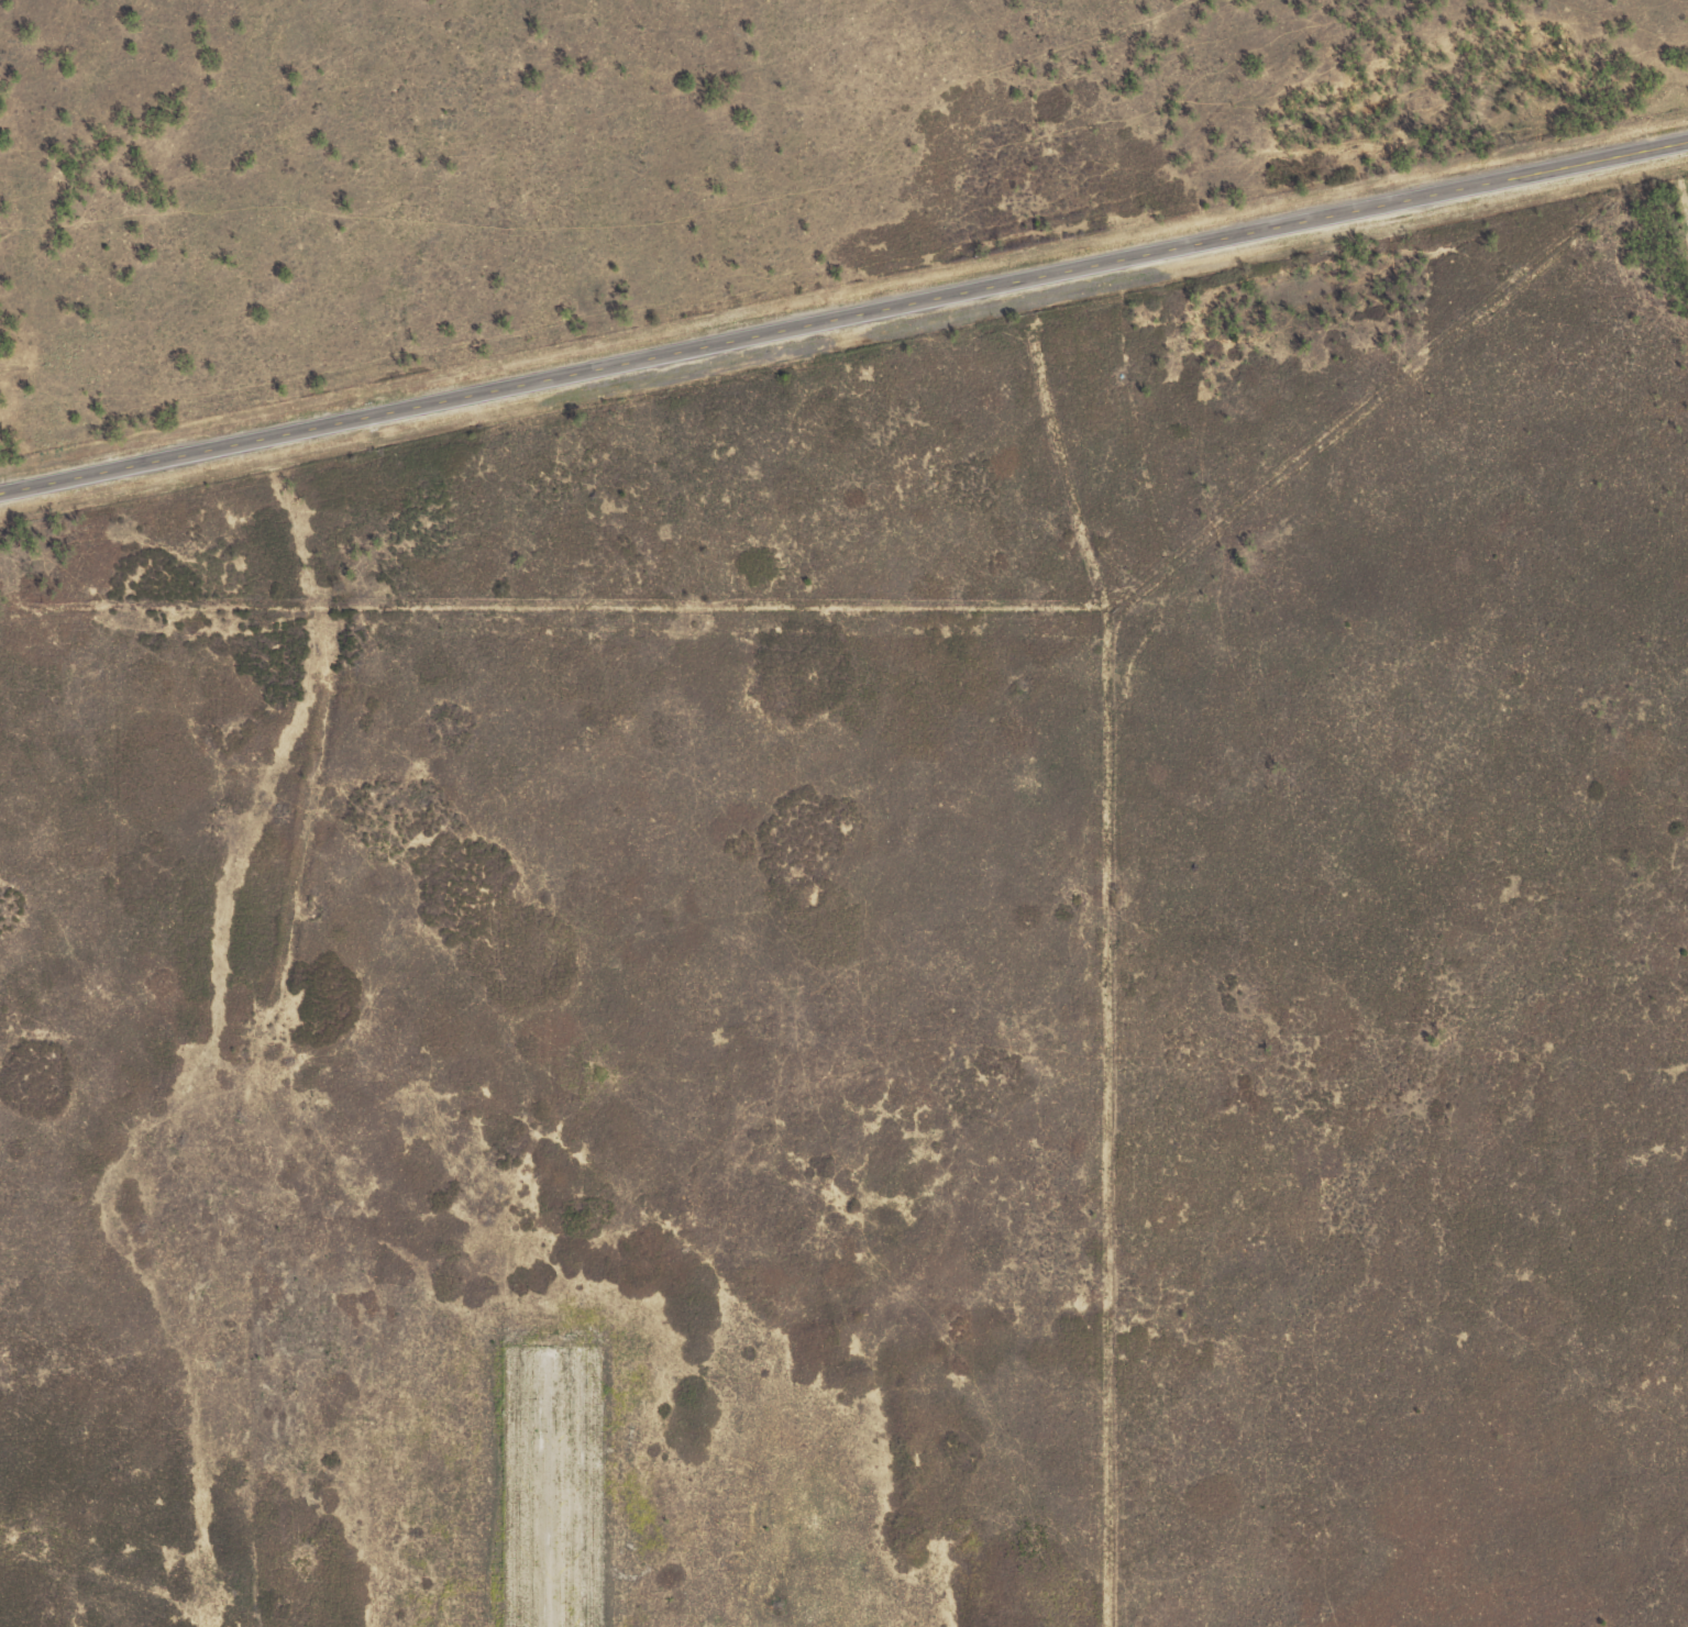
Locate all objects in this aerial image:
road: (843, 333)
airport: (545, 1118)
airport taxiway: (545, 1488)

